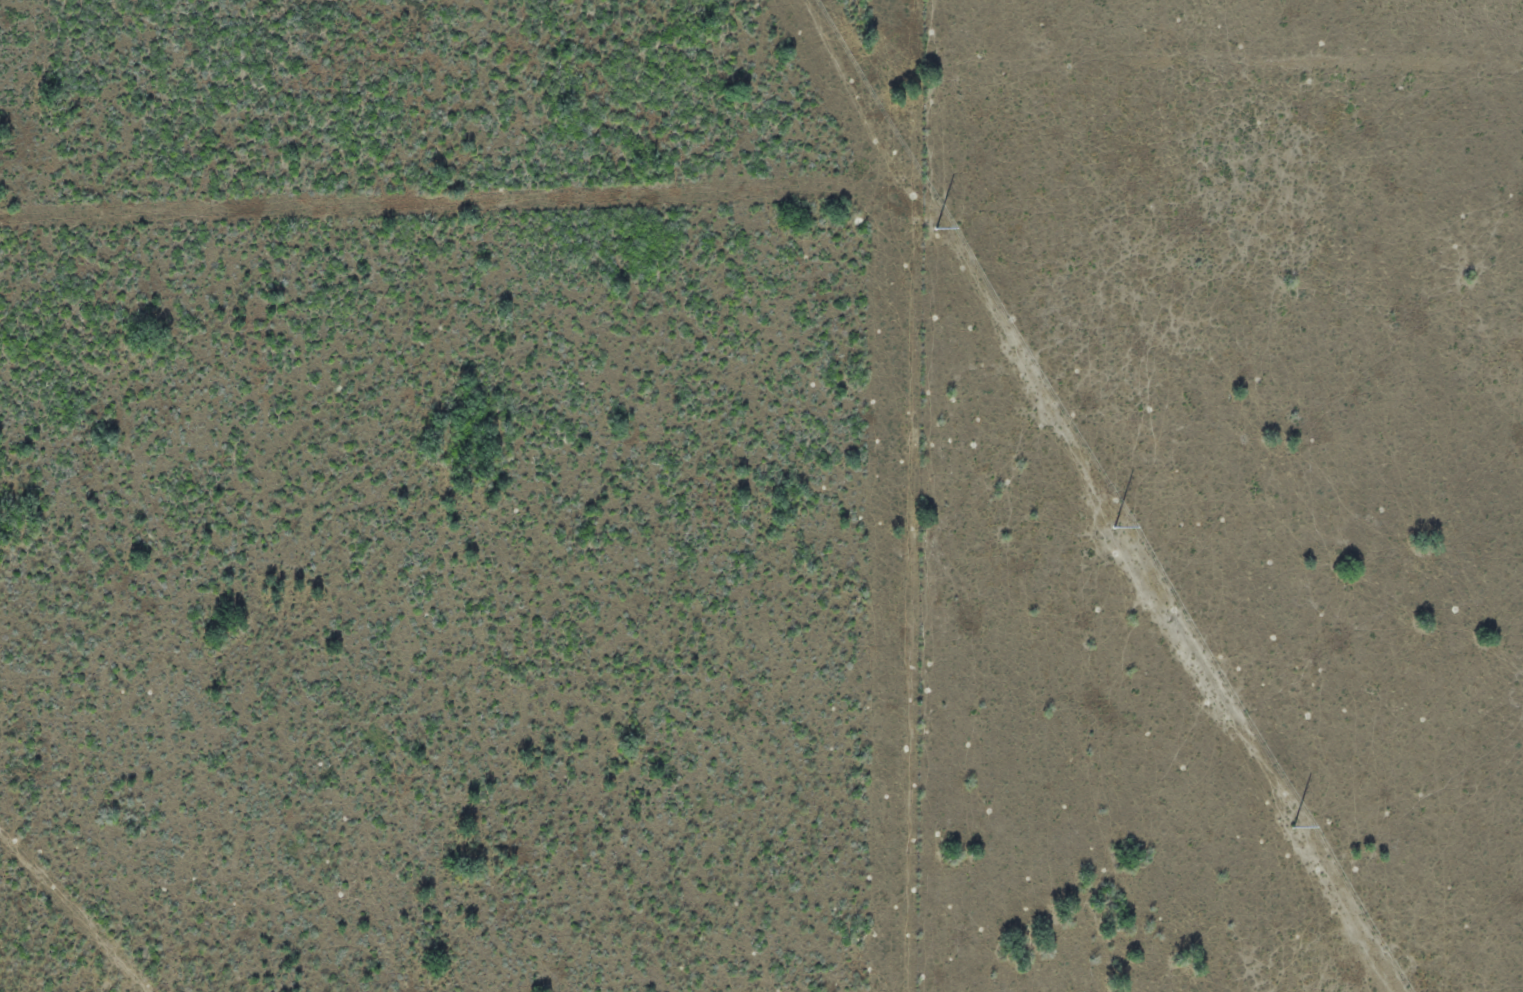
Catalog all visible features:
power tower: (937, 227)
power tower: (1114, 527)
power tower: (1293, 828)

